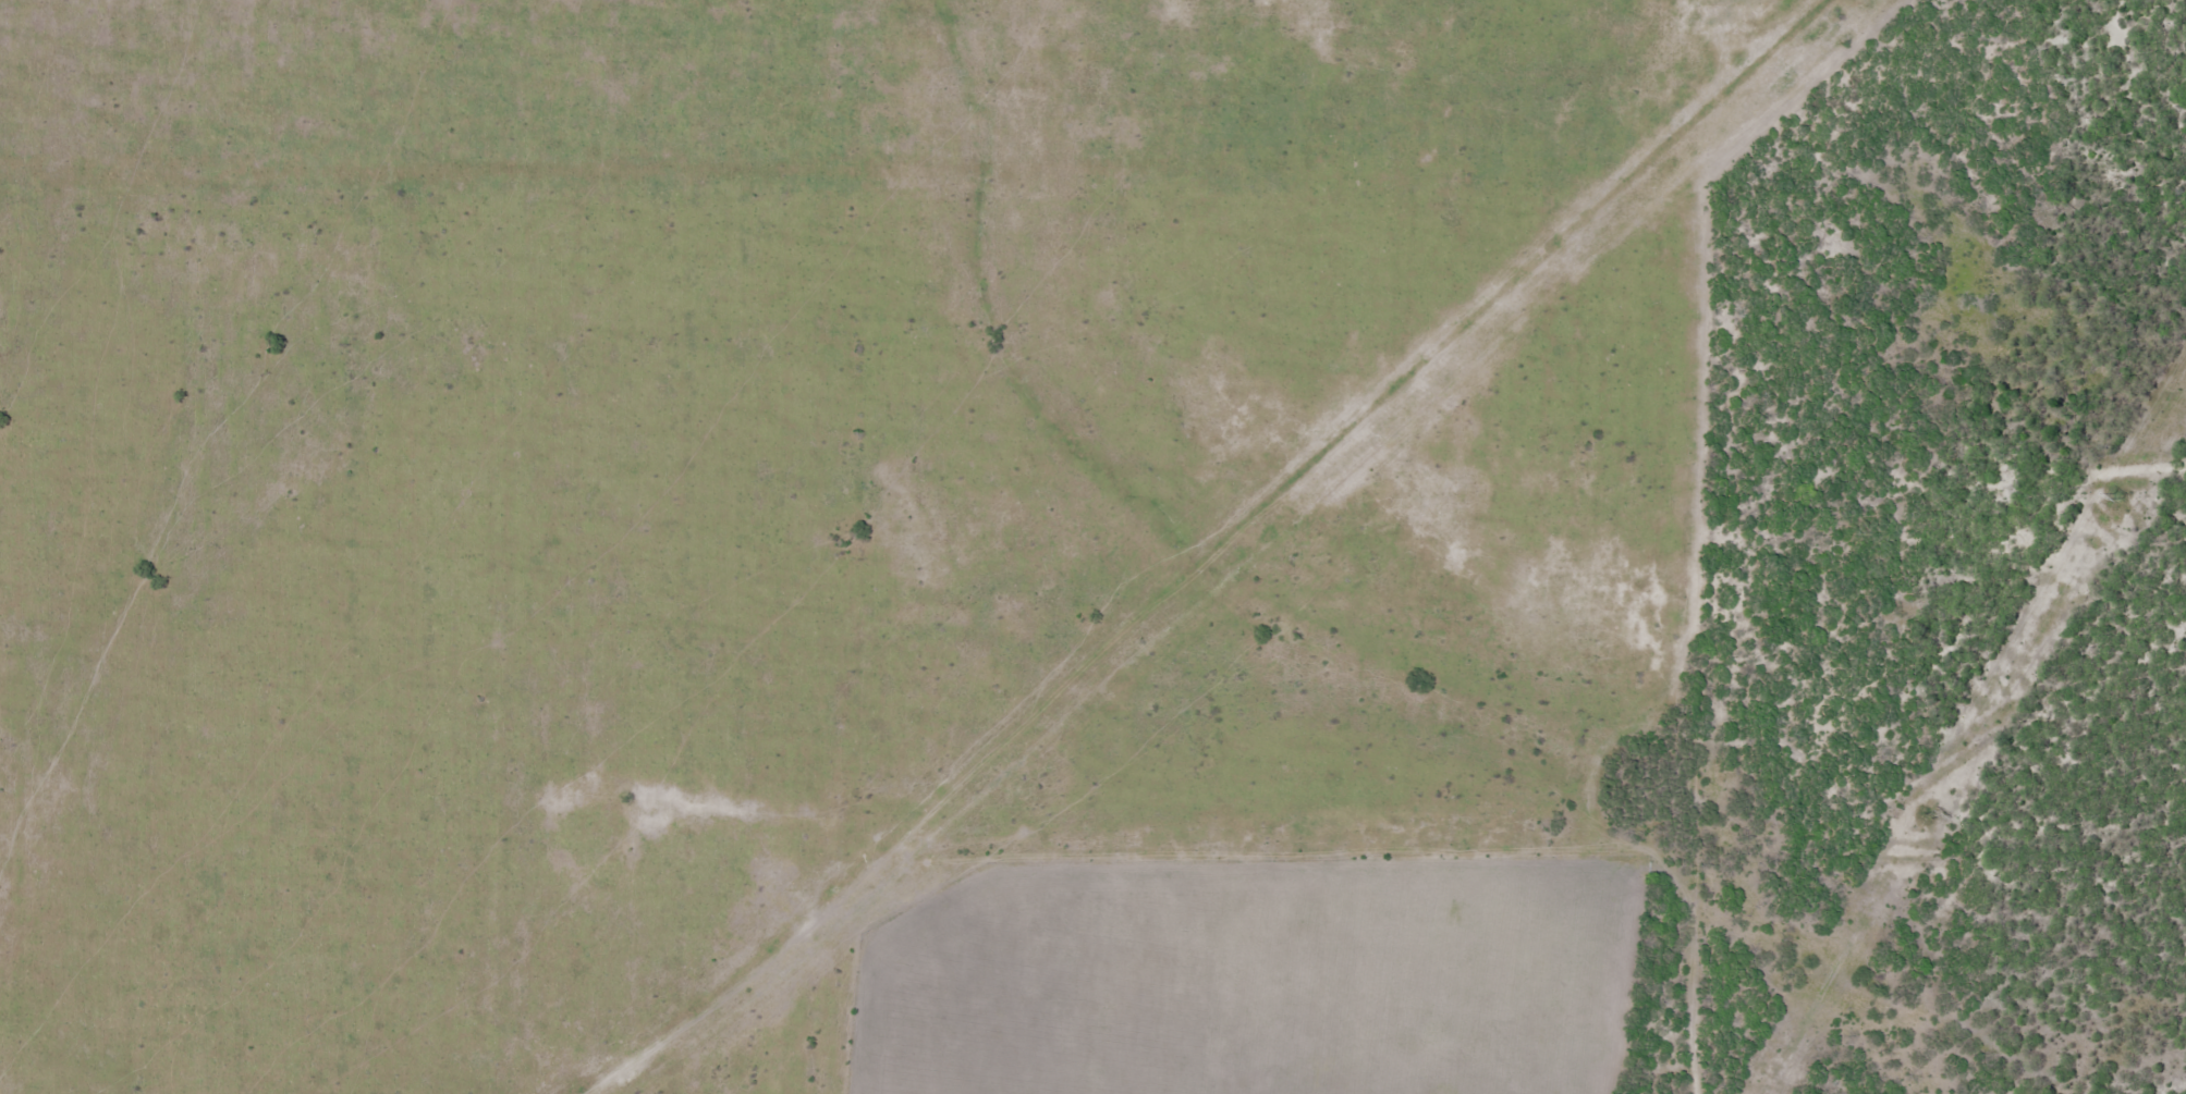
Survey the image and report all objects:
power tower: (2115, 493)
power tower: (1924, 814)

